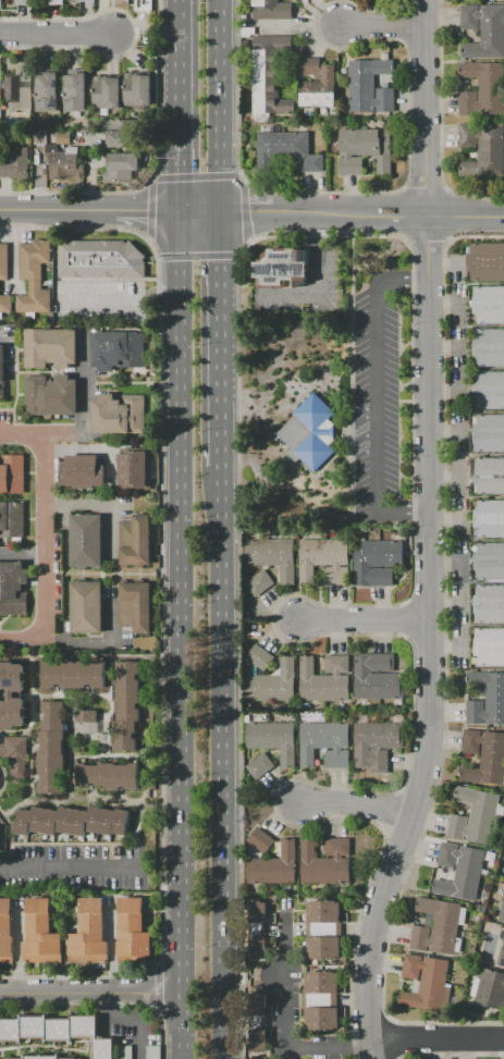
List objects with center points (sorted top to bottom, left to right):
building: (86, 0)
building: (24, 2)
building: (56, 2)
building: (143, 4)
building: (271, 10)
road: (383, 24)
building: (483, 29)
road: (56, 32)
building: (267, 79)
building: (328, 81)
building: (0, 85)
building: (19, 86)
building: (369, 86)
building: (481, 89)
building: (137, 90)
building: (46, 91)
building: (74, 91)
building: (106, 93)
road: (176, 106)
road: (220, 106)
road: (423, 106)
road: (193, 110)
building: (120, 133)
building: (484, 146)
building: (290, 148)
building: (362, 150)
building: (62, 157)
building: (16, 164)
building: (120, 165)
traffic signals: (176, 175)
road: (200, 211)
road: (247, 211)
road: (57, 212)
traffic signals: (146, 212)
road: (147, 212)
traffic signals: (248, 212)
road: (390, 212)
building: (99, 259)
building: (3, 261)
traffic signals: (220, 262)
building: (487, 262)
building: (280, 269)
building: (34, 276)
road: (320, 283)
road: (157, 291)
road: (95, 300)
building: (5, 304)
building: (488, 304)
road: (157, 316)
road: (3, 336)
road: (220, 338)
building: (489, 347)
building: (50, 348)
building: (116, 349)
road: (201, 350)
building: (1, 371)
road: (83, 386)
building: (489, 390)
parking lot: (386, 394)
building: (50, 395)
road: (374, 399)
building: (118, 414)
road: (36, 433)
building: (309, 433)
building: (489, 433)
building: (134, 468)
building: (81, 471)
building: (11, 473)
building: (489, 476)
building: (488, 513)
building: (12, 519)
road: (35, 537)
road: (112, 540)
building: (84, 541)
building: (135, 541)
road: (23, 553)
building: (271, 556)
building: (323, 561)
building: (376, 562)
building: (489, 562)
road: (47, 566)
building: (258, 582)
building: (13, 588)
building: (488, 604)
building: (86, 606)
building: (134, 607)
road: (366, 620)
road: (182, 636)
road: (24, 638)
road: (432, 640)
building: (489, 647)
building: (260, 657)
building: (72, 674)
building: (377, 676)
road: (146, 677)
building: (324, 679)
building: (272, 682)
road: (32, 693)
building: (11, 694)
road: (71, 694)
building: (487, 699)
building: (127, 704)
road: (110, 705)
building: (84, 715)
road: (161, 722)
road: (13, 731)
building: (273, 739)
building: (325, 742)
building: (374, 746)
building: (51, 748)
building: (15, 755)
road: (70, 755)
road: (106, 755)
building: (483, 756)
road: (223, 762)
building: (259, 764)
building: (108, 774)
road: (28, 796)
road: (84, 798)
road: (359, 805)
building: (474, 815)
road: (3, 816)
building: (72, 821)
building: (260, 840)
road: (74, 843)
building: (324, 861)
building: (273, 866)
road: (71, 869)
building: (459, 871)
building: (501, 913)
building: (435, 926)
building: (132, 928)
building: (253, 929)
building: (322, 929)
building: (5, 931)
building: (88, 933)
building: (40, 934)
road: (112, 945)
road: (16, 947)
building: (501, 956)
road: (288, 982)
building: (425, 983)
building: (490, 988)
road: (91, 994)
building: (321, 1000)
road: (105, 1002)
building: (258, 1022)
building: (58, 1032)
road: (437, 1038)
road: (331, 1048)
building: (124, 1052)
building: (152, 1052)
building: (41, 1057)

